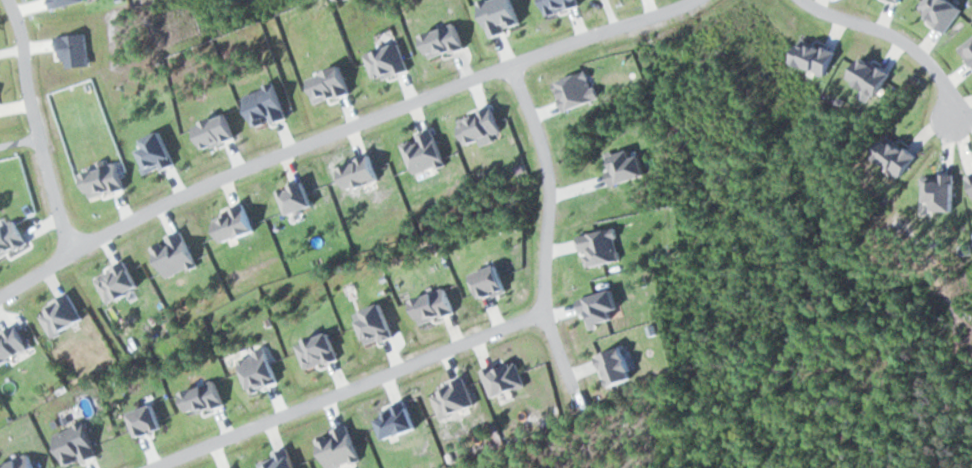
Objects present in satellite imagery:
road: (890, 35)
road: (33, 128)
road: (328, 132)
road: (533, 228)
road: (334, 390)

